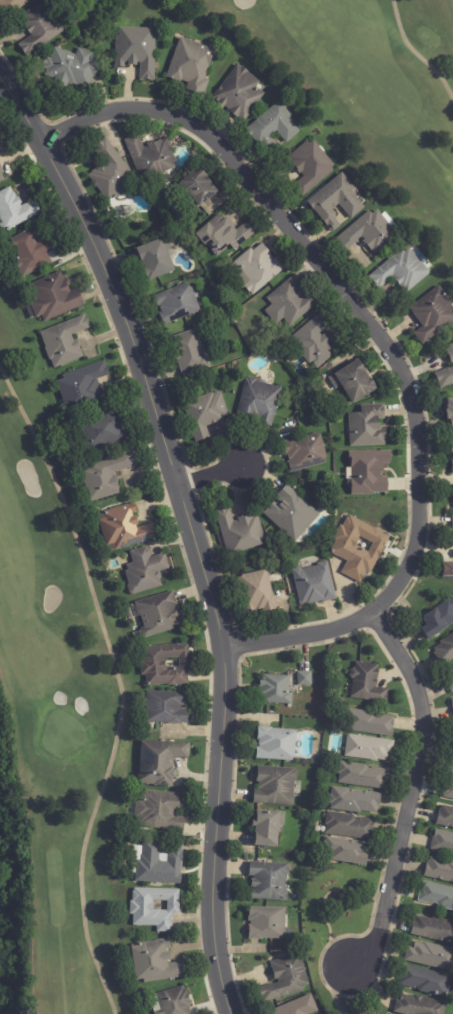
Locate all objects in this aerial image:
building: (12, 6)
building: (40, 28)
building: (138, 51)
building: (192, 66)
building: (72, 67)
park: (357, 84)
building: (240, 94)
building: (274, 128)
building: (2, 146)
building: (151, 158)
building: (312, 167)
building: (111, 172)
building: (2, 173)
building: (199, 188)
building: (336, 201)
building: (15, 209)
building: (369, 232)
building: (224, 235)
building: (32, 251)
building: (157, 261)
building: (257, 269)
building: (402, 271)
building: (55, 296)
building: (291, 302)
building: (178, 304)
building: (433, 315)
road: (386, 333)
building: (65, 341)
building: (315, 342)
building: (450, 352)
building: (190, 354)
building: (445, 378)
building: (355, 383)
building: (84, 387)
building: (259, 402)
building: (449, 408)
building: (206, 415)
building: (368, 427)
building: (104, 430)
building: (452, 447)
building: (306, 453)
building: (452, 464)
building: (367, 472)
building: (107, 475)
road: (211, 478)
building: (452, 506)
building: (291, 515)
road: (190, 526)
building: (126, 528)
building: (240, 532)
building: (358, 548)
building: (146, 570)
building: (448, 571)
building: (316, 586)
building: (258, 593)
building: (159, 614)
building: (439, 619)
building: (445, 651)
building: (167, 665)
building: (305, 678)
building: (451, 683)
building: (368, 684)
building: (277, 690)
building: (452, 706)
building: (167, 707)
park: (52, 720)
building: (371, 723)
building: (276, 744)
building: (370, 748)
building: (160, 762)
building: (451, 769)
building: (362, 775)
building: (276, 785)
road: (414, 790)
building: (449, 790)
building: (355, 801)
building: (160, 811)
building: (446, 817)
building: (351, 826)
building: (267, 829)
building: (442, 842)
building: (347, 850)
building: (158, 863)
building: (439, 870)
building: (270, 881)
building: (437, 895)
building: (155, 908)
building: (267, 923)
building: (433, 929)
building: (430, 956)
building: (157, 962)
building: (286, 980)
building: (426, 981)
building: (174, 1002)
building: (418, 1005)
building: (300, 1007)
park: (452, 1011)

